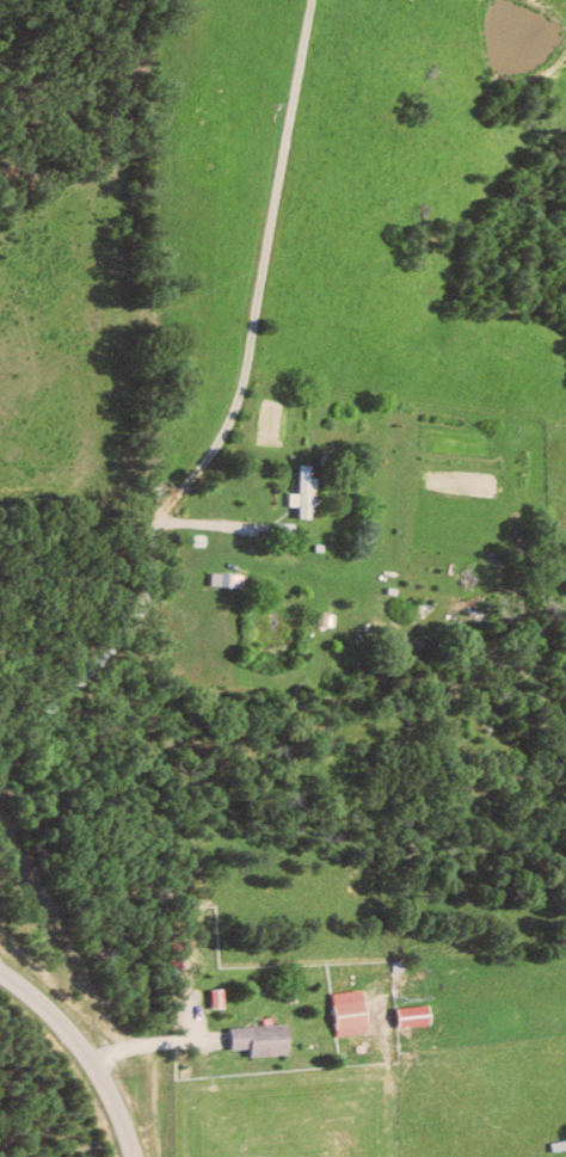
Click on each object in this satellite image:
road: (254, 273)
building: (306, 492)
road: (106, 596)
building: (353, 1013)
building: (417, 1016)
building: (266, 1039)
road: (159, 1044)
road: (81, 1056)

